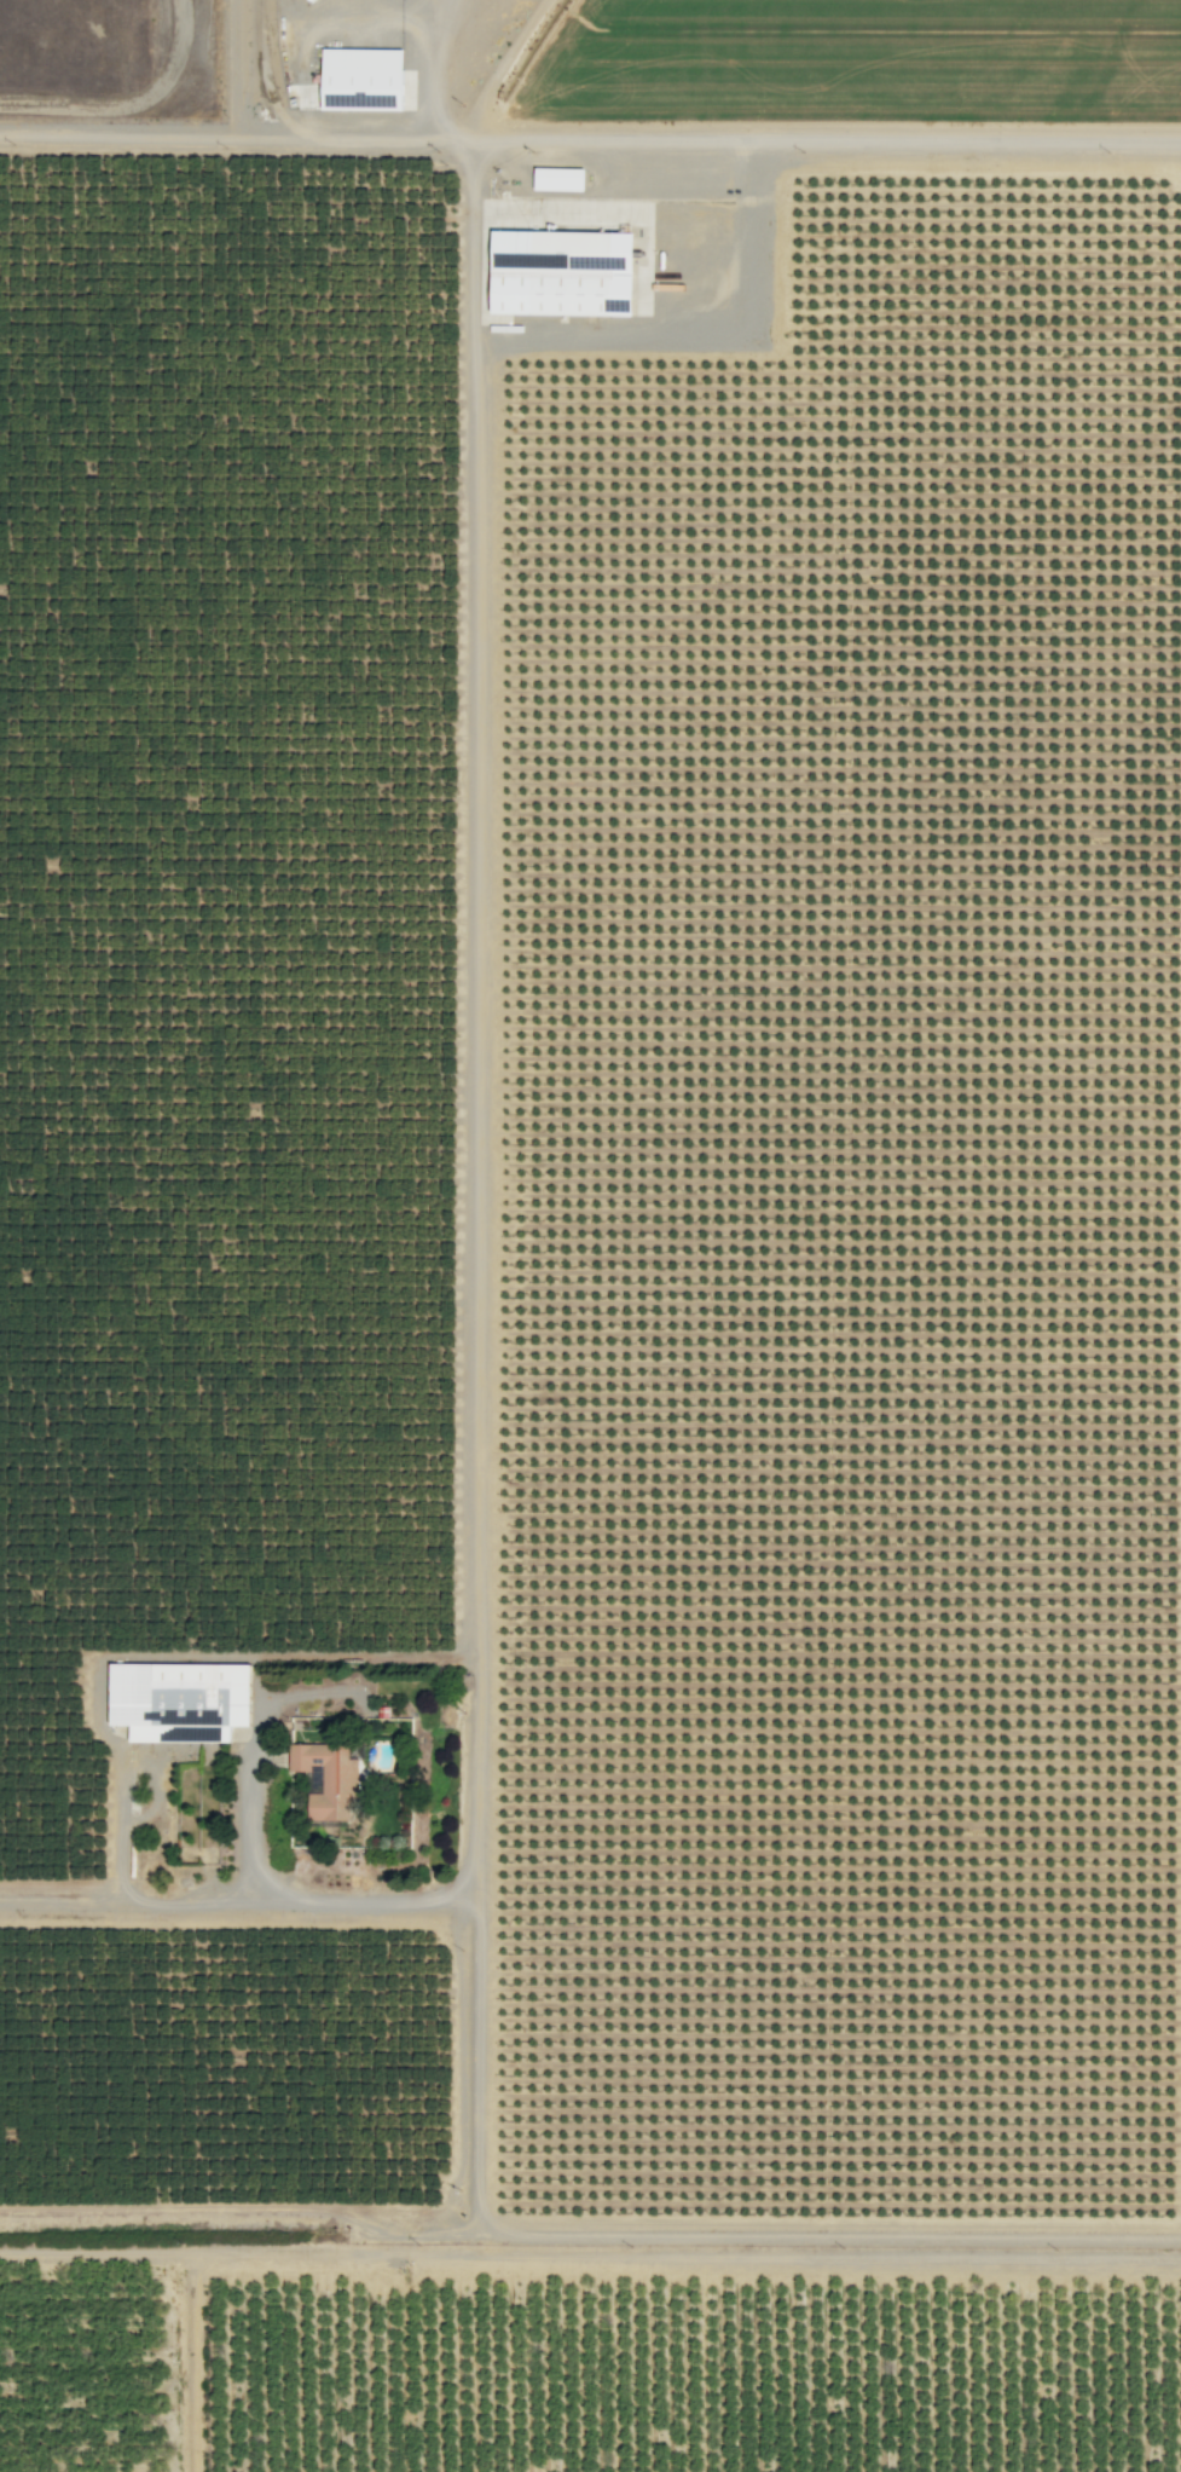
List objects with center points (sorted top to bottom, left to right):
quarry: (109, 59)
crop: (858, 62)
road: (590, 137)
building: (180, 1700)
building: (329, 1778)

